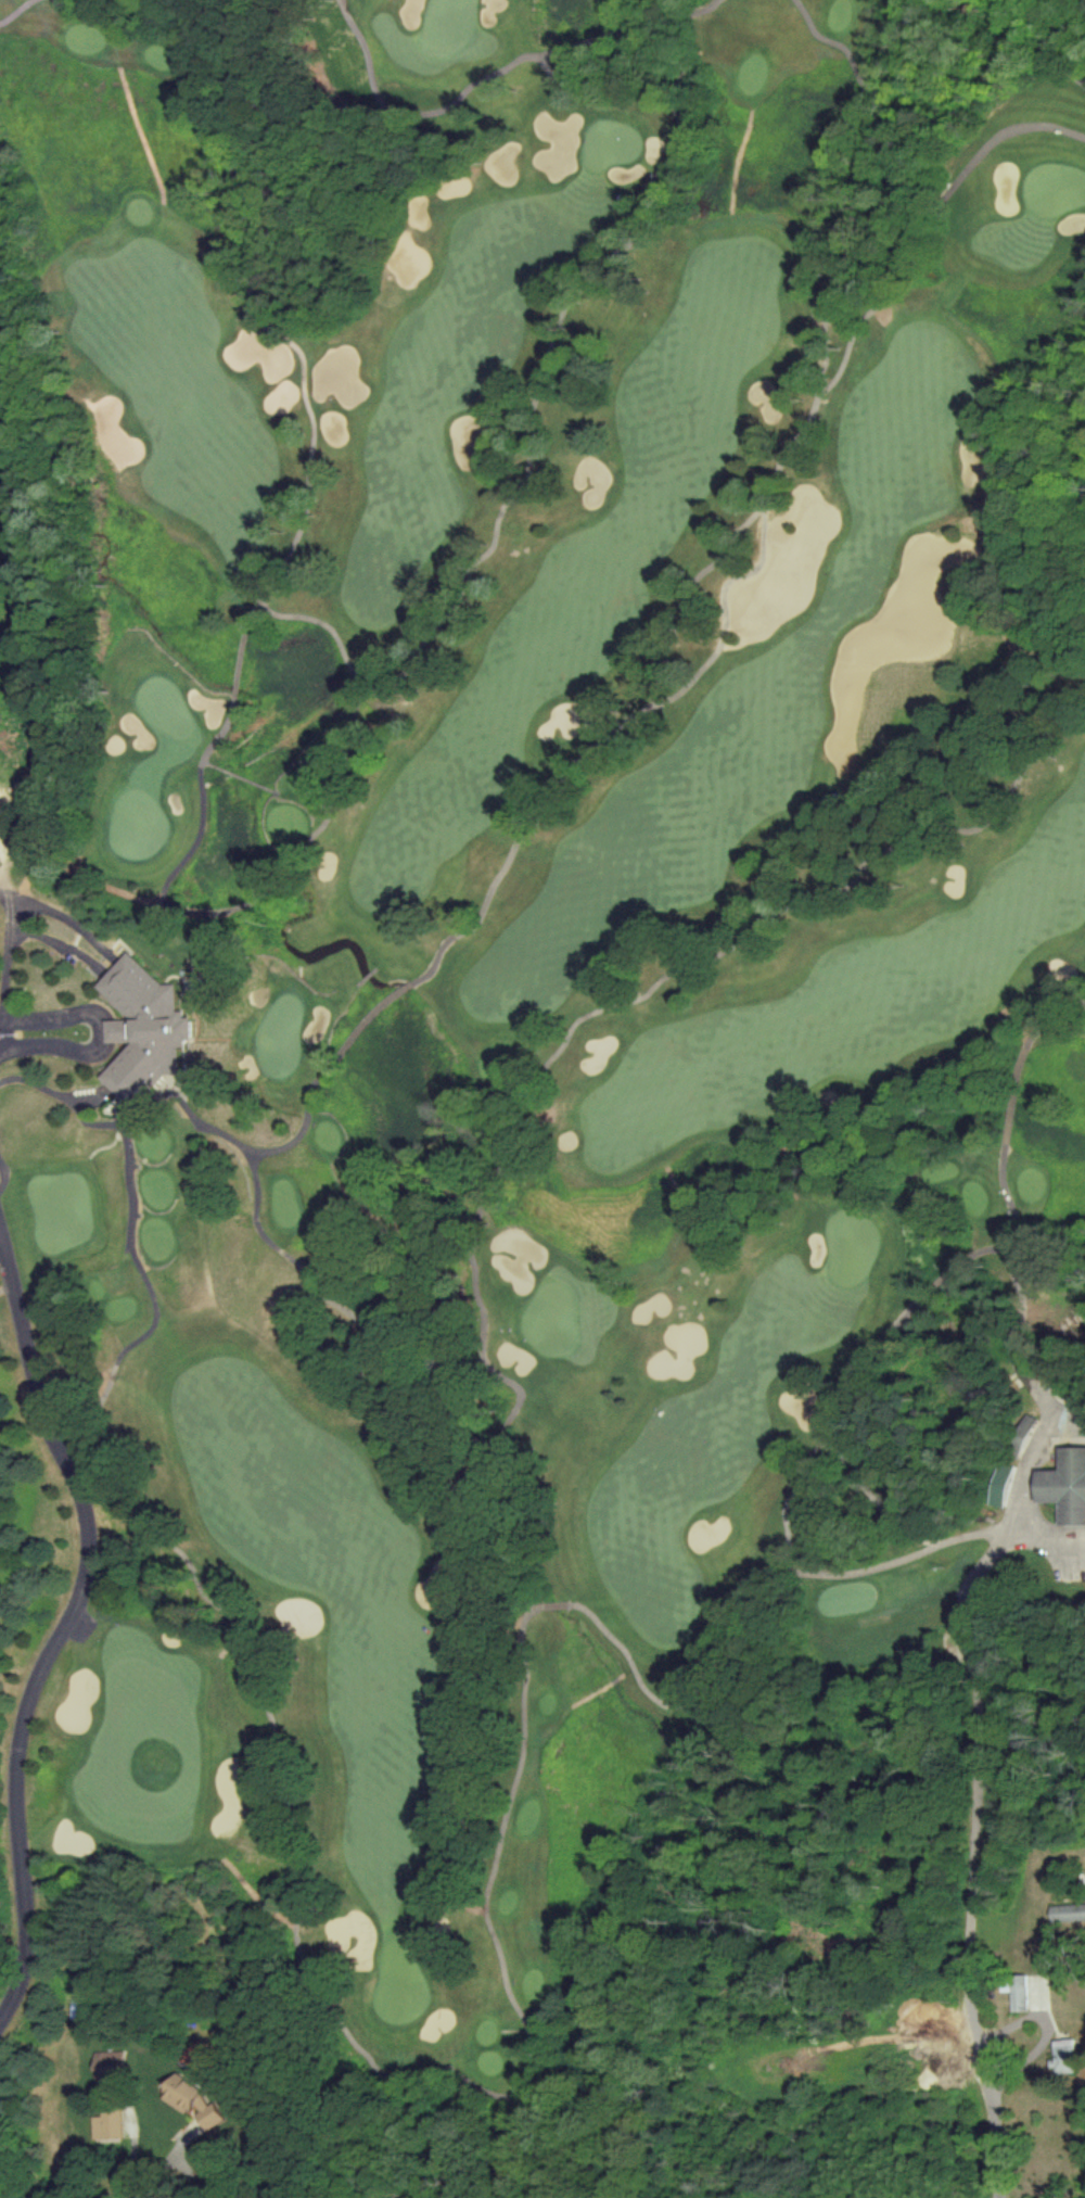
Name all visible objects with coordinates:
road: (15, 10)
road: (1045, 36)
road: (488, 73)
road: (682, 597)
road: (779, 912)
road: (5, 935)
building: (139, 1028)
road: (95, 1030)
road: (1030, 1032)
park: (546, 1050)
road: (1011, 1104)
road: (2, 1173)
road: (533, 1192)
road: (0, 1221)
road: (404, 1395)
building: (998, 1484)
building: (1065, 1484)
road: (68, 1615)
road: (972, 1820)
building: (1067, 1911)
building: (1013, 1991)
road: (526, 2049)
building: (1061, 2056)
building: (108, 2063)
building: (182, 2091)
building: (210, 2112)
building: (105, 2121)
road: (173, 2160)
road: (192, 2173)

